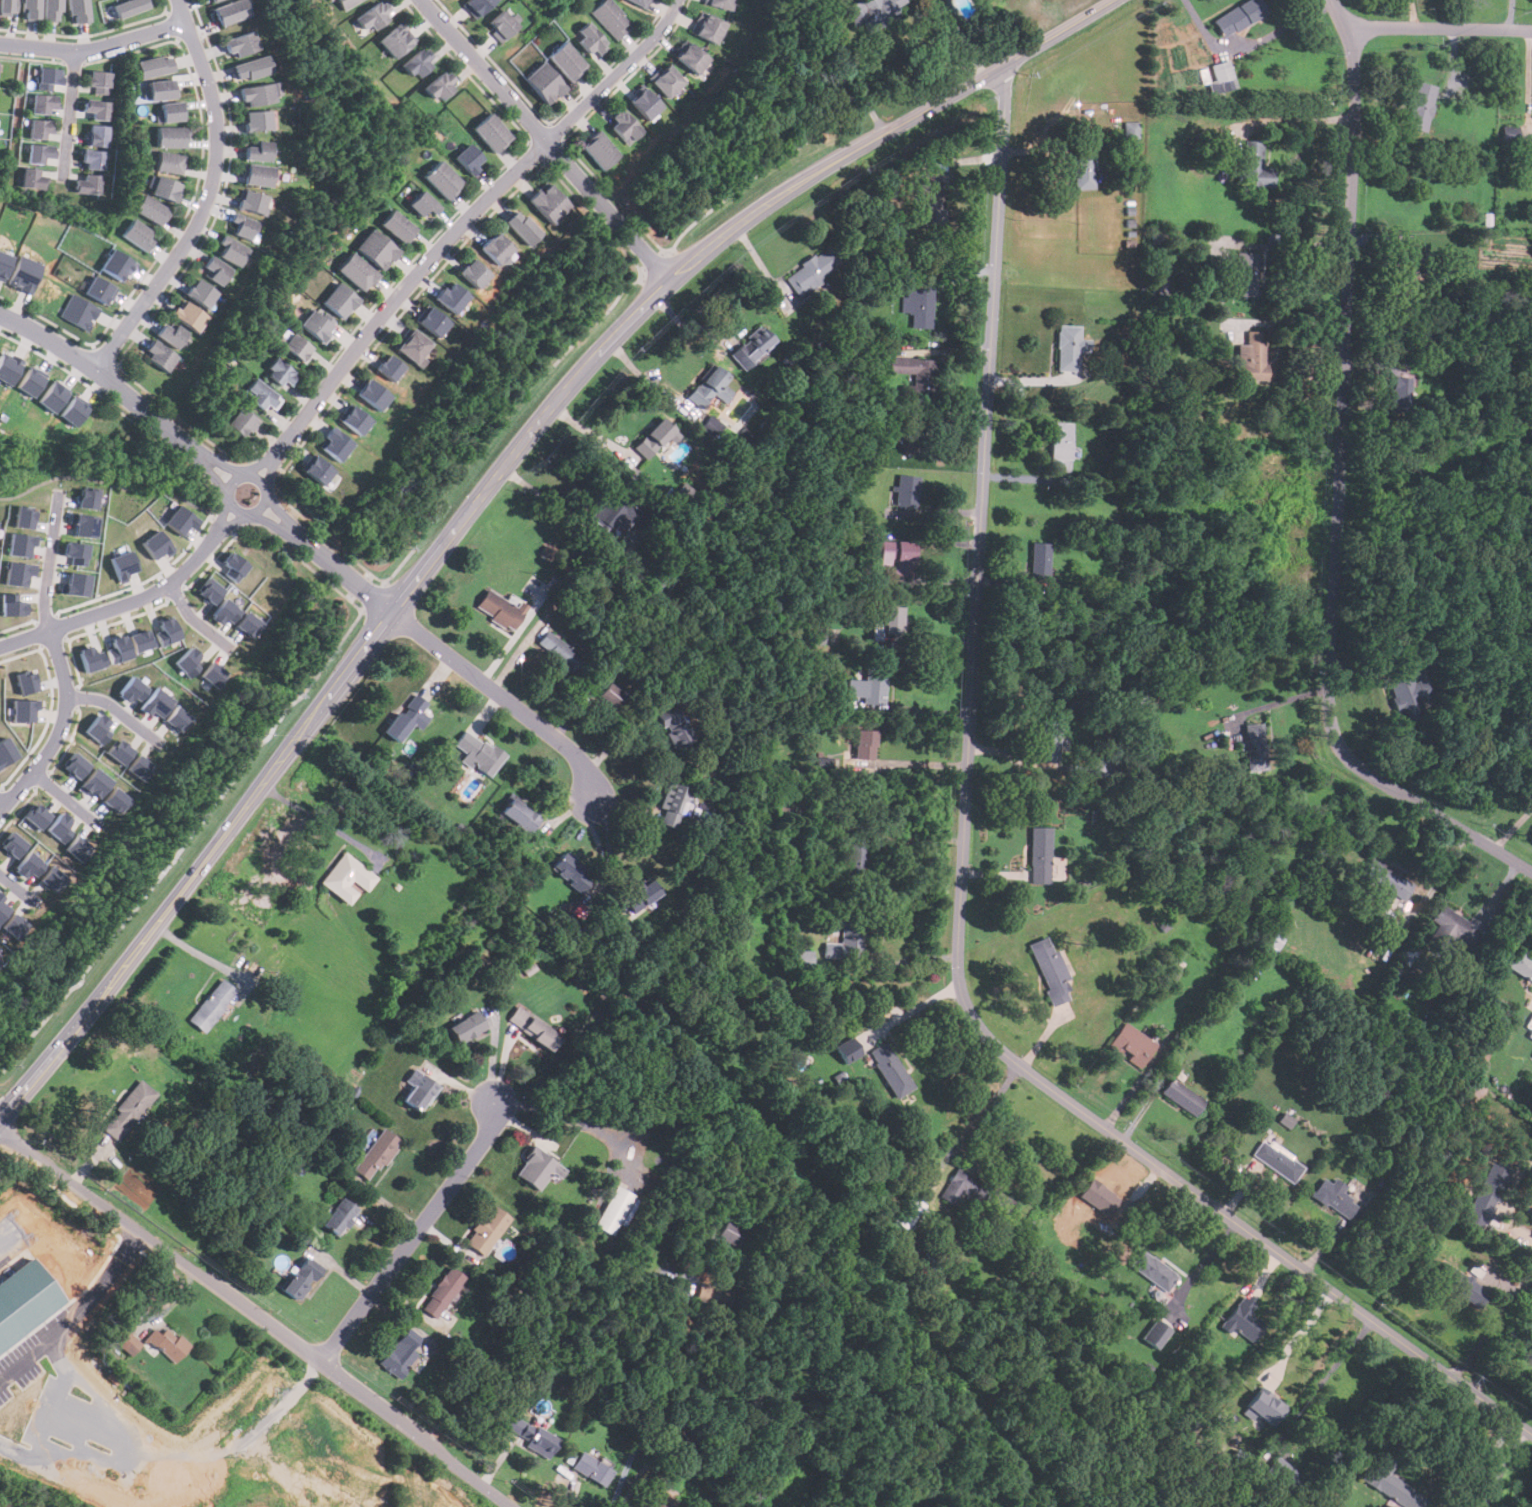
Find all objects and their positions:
building: (209, 0)
building: (212, 0)
building: (957, 1)
building: (637, 2)
building: (344, 3)
building: (719, 3)
building: (7, 6)
building: (474, 6)
building: (127, 7)
building: (30, 10)
building: (51, 10)
building: (77, 10)
building: (230, 12)
building: (871, 14)
building: (1237, 17)
building: (372, 18)
building: (609, 18)
building: (499, 24)
building: (707, 27)
road: (1439, 28)
road: (960, 38)
building: (589, 40)
building: (395, 41)
building: (239, 45)
road: (94, 48)
building: (692, 59)
building: (565, 61)
building: (416, 64)
building: (151, 66)
building: (250, 68)
road: (847, 68)
building: (1221, 71)
building: (47, 79)
building: (665, 80)
building: (96, 82)
building: (541, 83)
building: (438, 86)
building: (160, 90)
building: (255, 95)
building: (645, 103)
building: (43, 104)
building: (1420, 105)
building: (96, 109)
building: (170, 112)
road: (68, 113)
road: (1300, 119)
building: (257, 120)
building: (624, 126)
building: (38, 129)
building: (1131, 130)
building: (488, 133)
building: (1508, 133)
building: (96, 136)
building: (170, 138)
road: (545, 143)
building: (598, 150)
building: (256, 151)
building: (37, 153)
building: (466, 158)
building: (91, 159)
building: (1083, 162)
building: (168, 163)
building: (1255, 165)
building: (256, 175)
building: (31, 178)
building: (440, 179)
building: (85, 184)
building: (164, 189)
building: (930, 192)
road: (206, 198)
building: (252, 201)
building: (548, 203)
building: (422, 206)
building: (149, 210)
road: (466, 217)
building: (396, 227)
building: (521, 227)
building: (240, 228)
building: (137, 235)
road: (1295, 246)
building: (1405, 246)
building: (230, 250)
building: (375, 250)
building: (497, 250)
building: (4, 264)
building: (115, 265)
building: (811, 270)
building: (214, 271)
building: (355, 272)
building: (25, 273)
building: (1245, 273)
building: (473, 274)
building: (100, 291)
building: (199, 292)
building: (450, 297)
building: (339, 300)
building: (917, 306)
building: (80, 313)
building: (188, 314)
building: (430, 322)
road: (1298, 324)
building: (317, 325)
road: (684, 326)
road: (628, 328)
building: (170, 333)
building: (412, 346)
building: (751, 346)
building: (296, 347)
building: (1067, 348)
building: (157, 354)
building: (1251, 356)
building: (8, 367)
building: (388, 367)
building: (279, 371)
building: (915, 372)
road: (107, 380)
building: (30, 381)
building: (709, 386)
building: (374, 393)
building: (1399, 393)
building: (260, 394)
building: (51, 396)
building: (72, 411)
building: (354, 420)
building: (241, 421)
building: (652, 437)
building: (912, 437)
building: (335, 444)
building: (1060, 445)
road: (225, 462)
road: (260, 463)
road: (270, 469)
building: (316, 470)
road: (214, 477)
road: (1338, 489)
building: (906, 490)
building: (87, 498)
road: (257, 506)
road: (279, 511)
building: (613, 513)
road: (224, 515)
building: (23, 517)
building: (180, 519)
road: (272, 519)
road: (234, 521)
building: (84, 525)
building: (19, 543)
building: (156, 544)
building: (897, 551)
building: (75, 552)
road: (48, 559)
building: (1038, 560)
building: (121, 564)
building: (234, 565)
building: (16, 573)
building: (76, 583)
building: (209, 590)
building: (12, 603)
road: (118, 606)
building: (500, 609)
building: (224, 611)
road: (195, 617)
building: (890, 620)
building: (249, 624)
building: (168, 631)
building: (140, 640)
building: (116, 648)
building: (559, 651)
building: (90, 658)
building: (189, 660)
road: (451, 661)
building: (213, 673)
building: (26, 681)
building: (869, 686)
building: (131, 689)
building: (609, 695)
road: (1283, 698)
building: (1407, 698)
building: (155, 702)
road: (117, 708)
building: (23, 709)
building: (406, 717)
building: (177, 719)
building: (673, 726)
building: (98, 728)
road: (59, 729)
building: (1048, 739)
building: (863, 744)
building: (1253, 748)
building: (119, 750)
building: (6, 751)
building: (477, 752)
road: (912, 762)
building: (75, 764)
building: (140, 767)
building: (1100, 767)
building: (94, 783)
road: (67, 796)
building: (116, 800)
building: (671, 805)
road: (1, 806)
building: (36, 815)
building: (519, 815)
road: (320, 821)
building: (60, 827)
building: (13, 844)
building: (78, 848)
road: (208, 855)
building: (1039, 855)
building: (855, 857)
road: (609, 858)
building: (29, 864)
building: (570, 872)
building: (54, 878)
building: (346, 878)
building: (1387, 879)
road: (18, 886)
road: (960, 892)
building: (640, 895)
building: (3, 908)
building: (16, 926)
building: (1450, 927)
building: (847, 941)
building: (1271, 942)
road: (195, 951)
building: (801, 959)
building: (0, 962)
road: (904, 963)
building: (1520, 964)
building: (1050, 971)
building: (211, 1006)
road: (917, 1008)
road: (79, 1023)
building: (465, 1027)
building: (532, 1027)
building: (1530, 1035)
building: (1131, 1045)
road: (492, 1055)
building: (889, 1069)
building: (417, 1090)
building: (1181, 1097)
building: (127, 1110)
road: (971, 1135)
building: (375, 1155)
building: (1277, 1160)
building: (536, 1169)
building: (974, 1193)
building: (1099, 1197)
building: (1333, 1197)
building: (613, 1210)
building: (905, 1211)
building: (338, 1217)
building: (486, 1230)
building: (731, 1233)
road: (414, 1235)
road: (1202, 1266)
building: (1152, 1271)
building: (300, 1278)
building: (1460, 1285)
building: (441, 1292)
building: (712, 1296)
building: (25, 1300)
road: (258, 1316)
building: (1243, 1319)
road: (1487, 1329)
building: (1155, 1333)
building: (126, 1342)
building: (167, 1344)
building: (399, 1353)
road: (1501, 1355)
road: (1321, 1382)
road: (649, 1393)
building: (1265, 1406)
building: (529, 1435)
road: (178, 1451)
road: (1478, 1465)
road: (1503, 1467)
building: (591, 1469)
building: (1284, 1475)
building: (1391, 1485)
building: (651, 1501)

